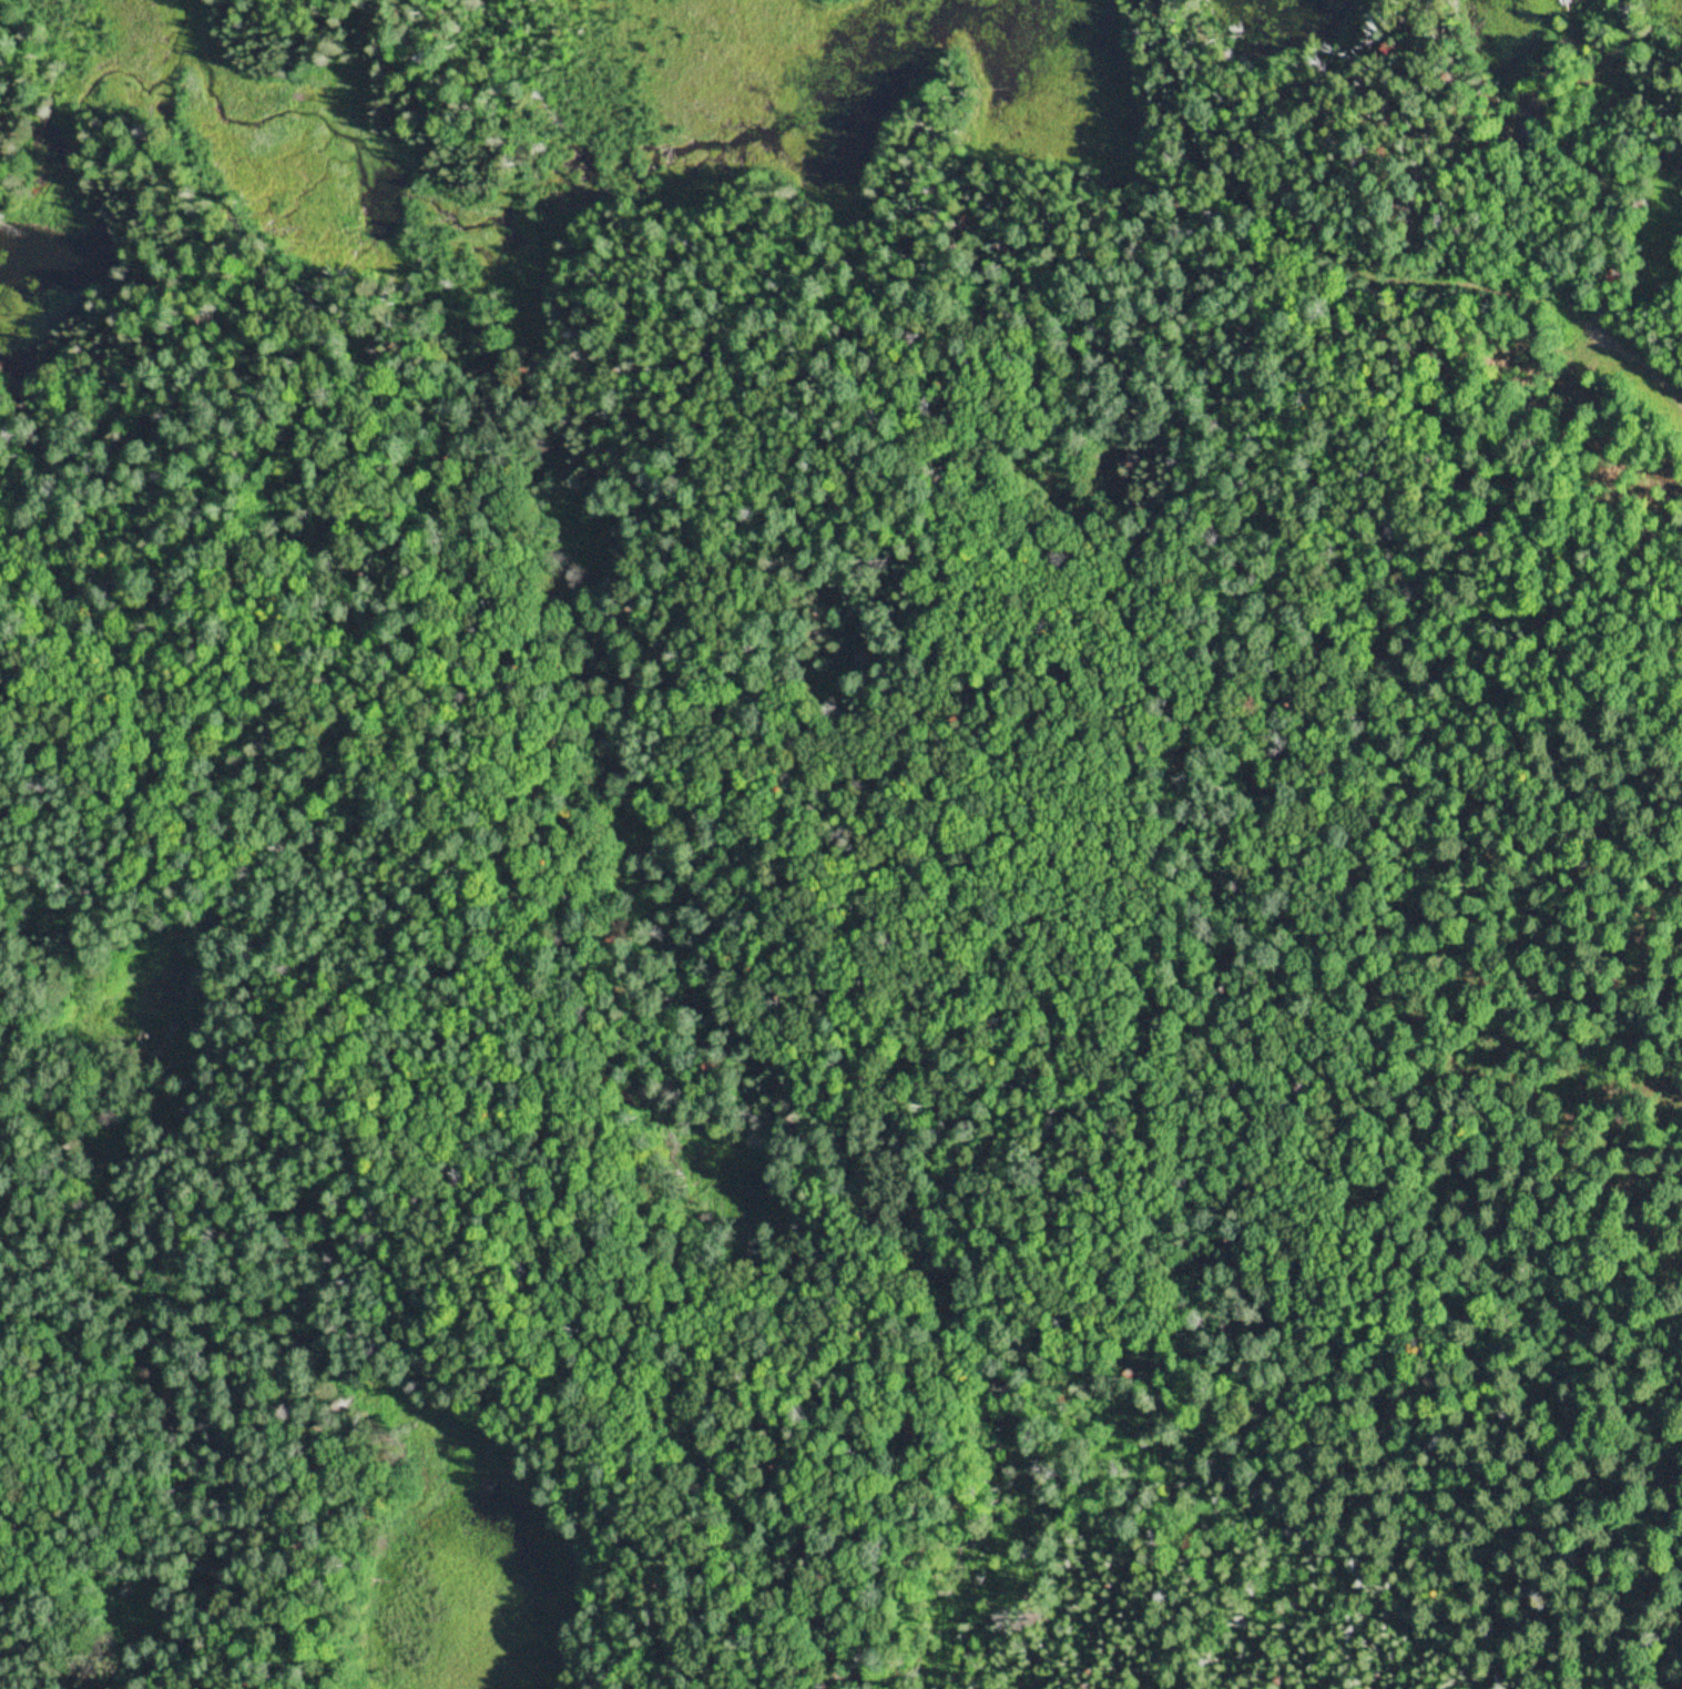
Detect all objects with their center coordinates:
road: (1306, 253)
road: (1641, 363)

